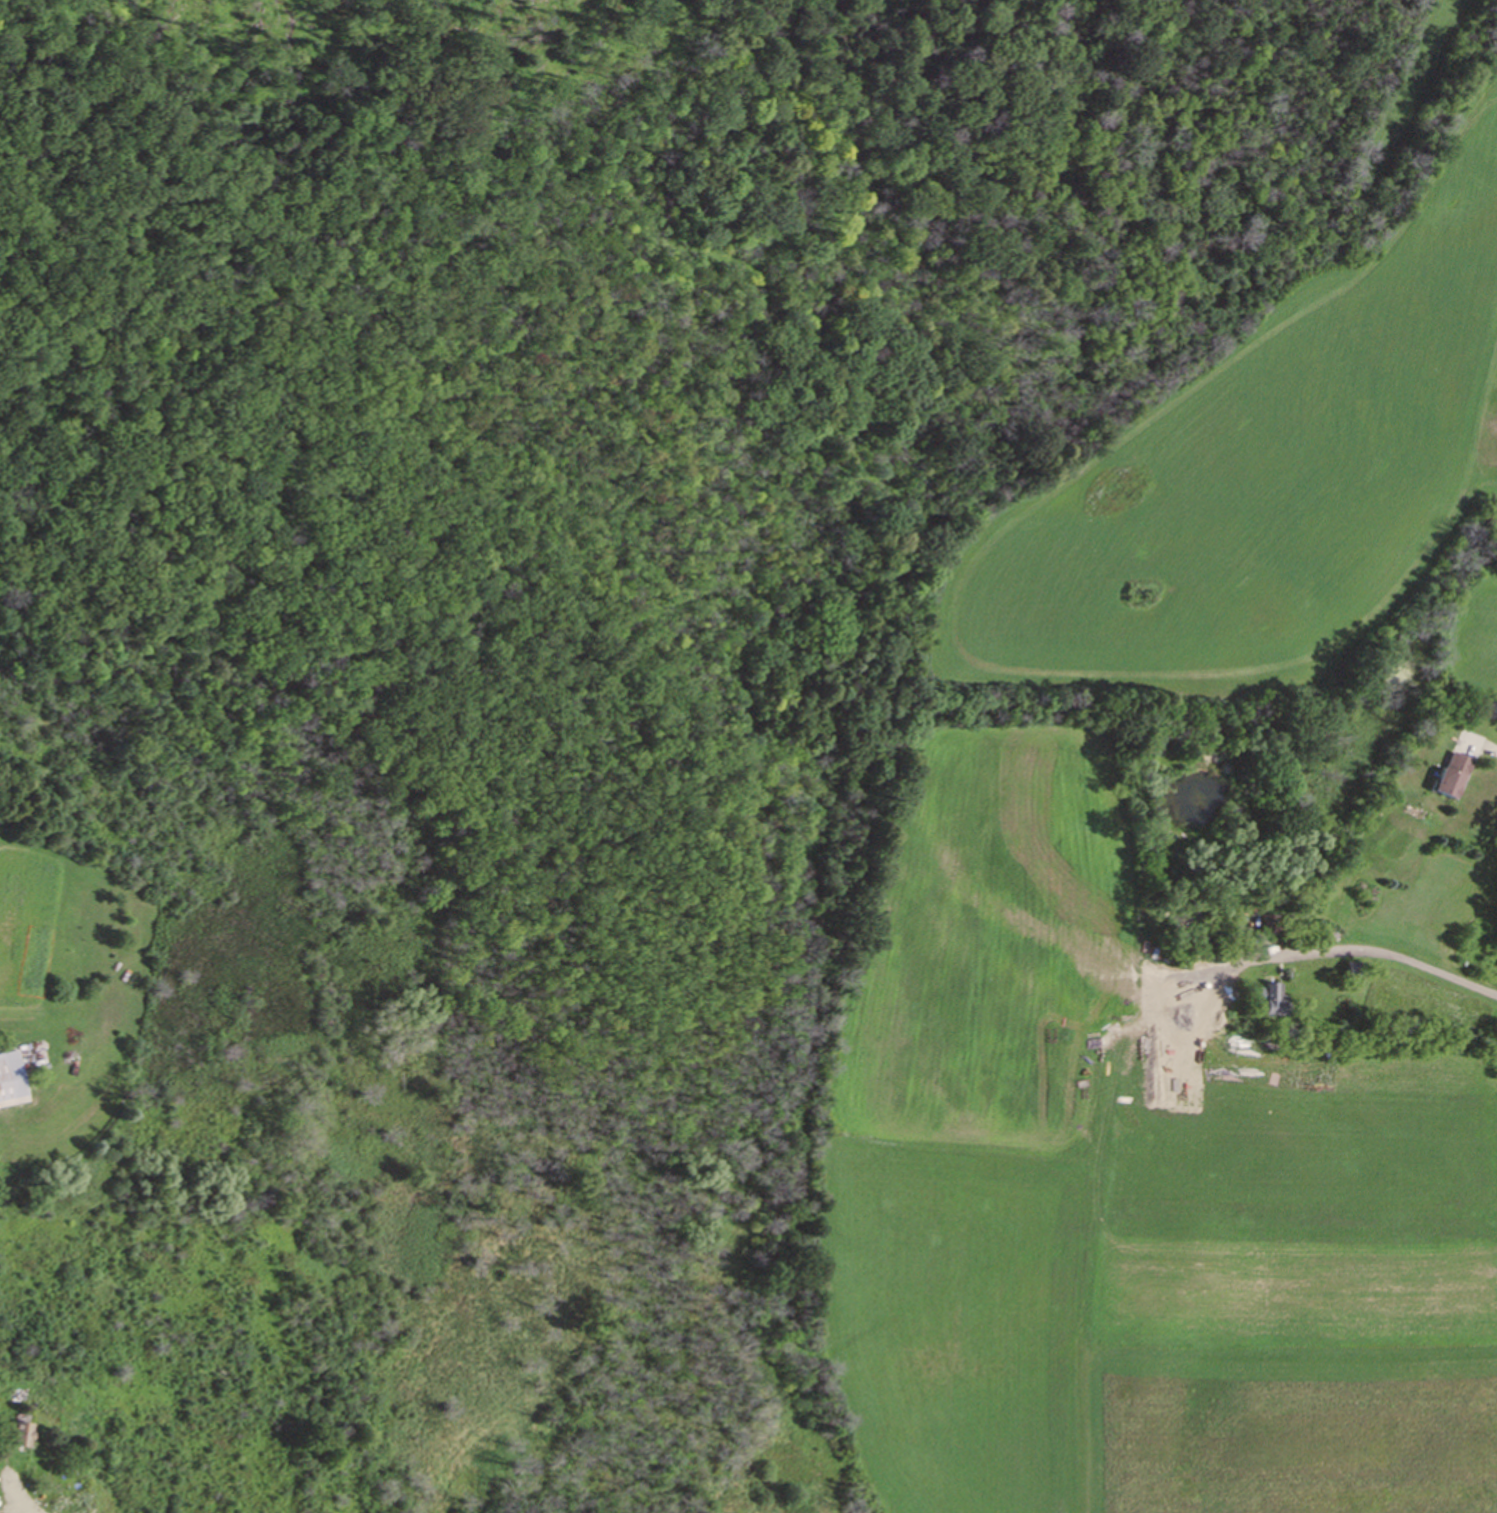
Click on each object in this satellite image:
building: (1445, 777)
crop: (999, 782)
road: (1393, 959)
building: (1267, 1002)
building: (6, 1080)
building: (11, 1437)
road: (11, 1499)

